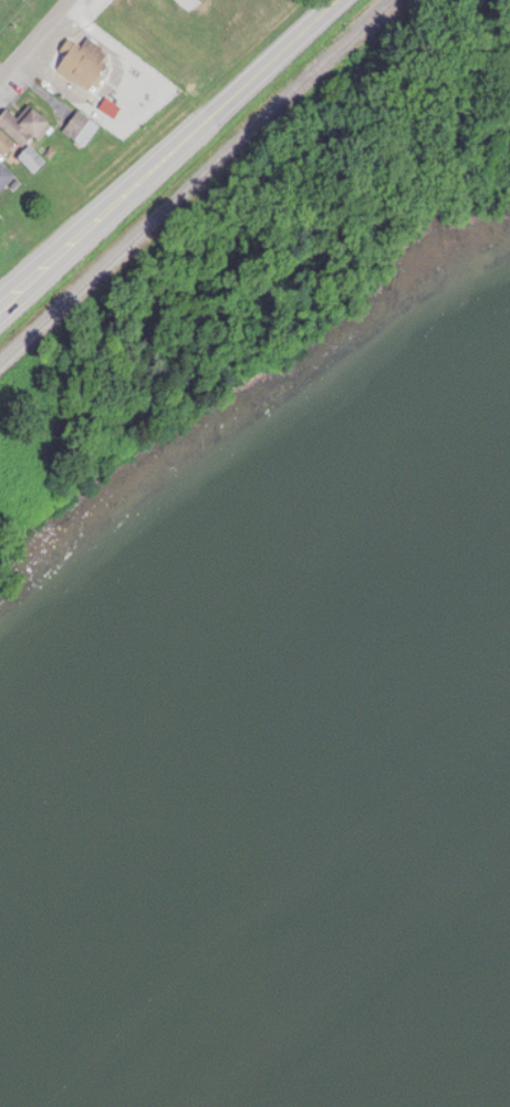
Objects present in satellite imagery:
road: (37, 41)
building: (82, 64)
building: (23, 128)
building: (79, 131)
building: (3, 146)
road: (176, 153)
building: (29, 161)
building: (4, 178)
railway: (204, 186)
river: (235, 861)

